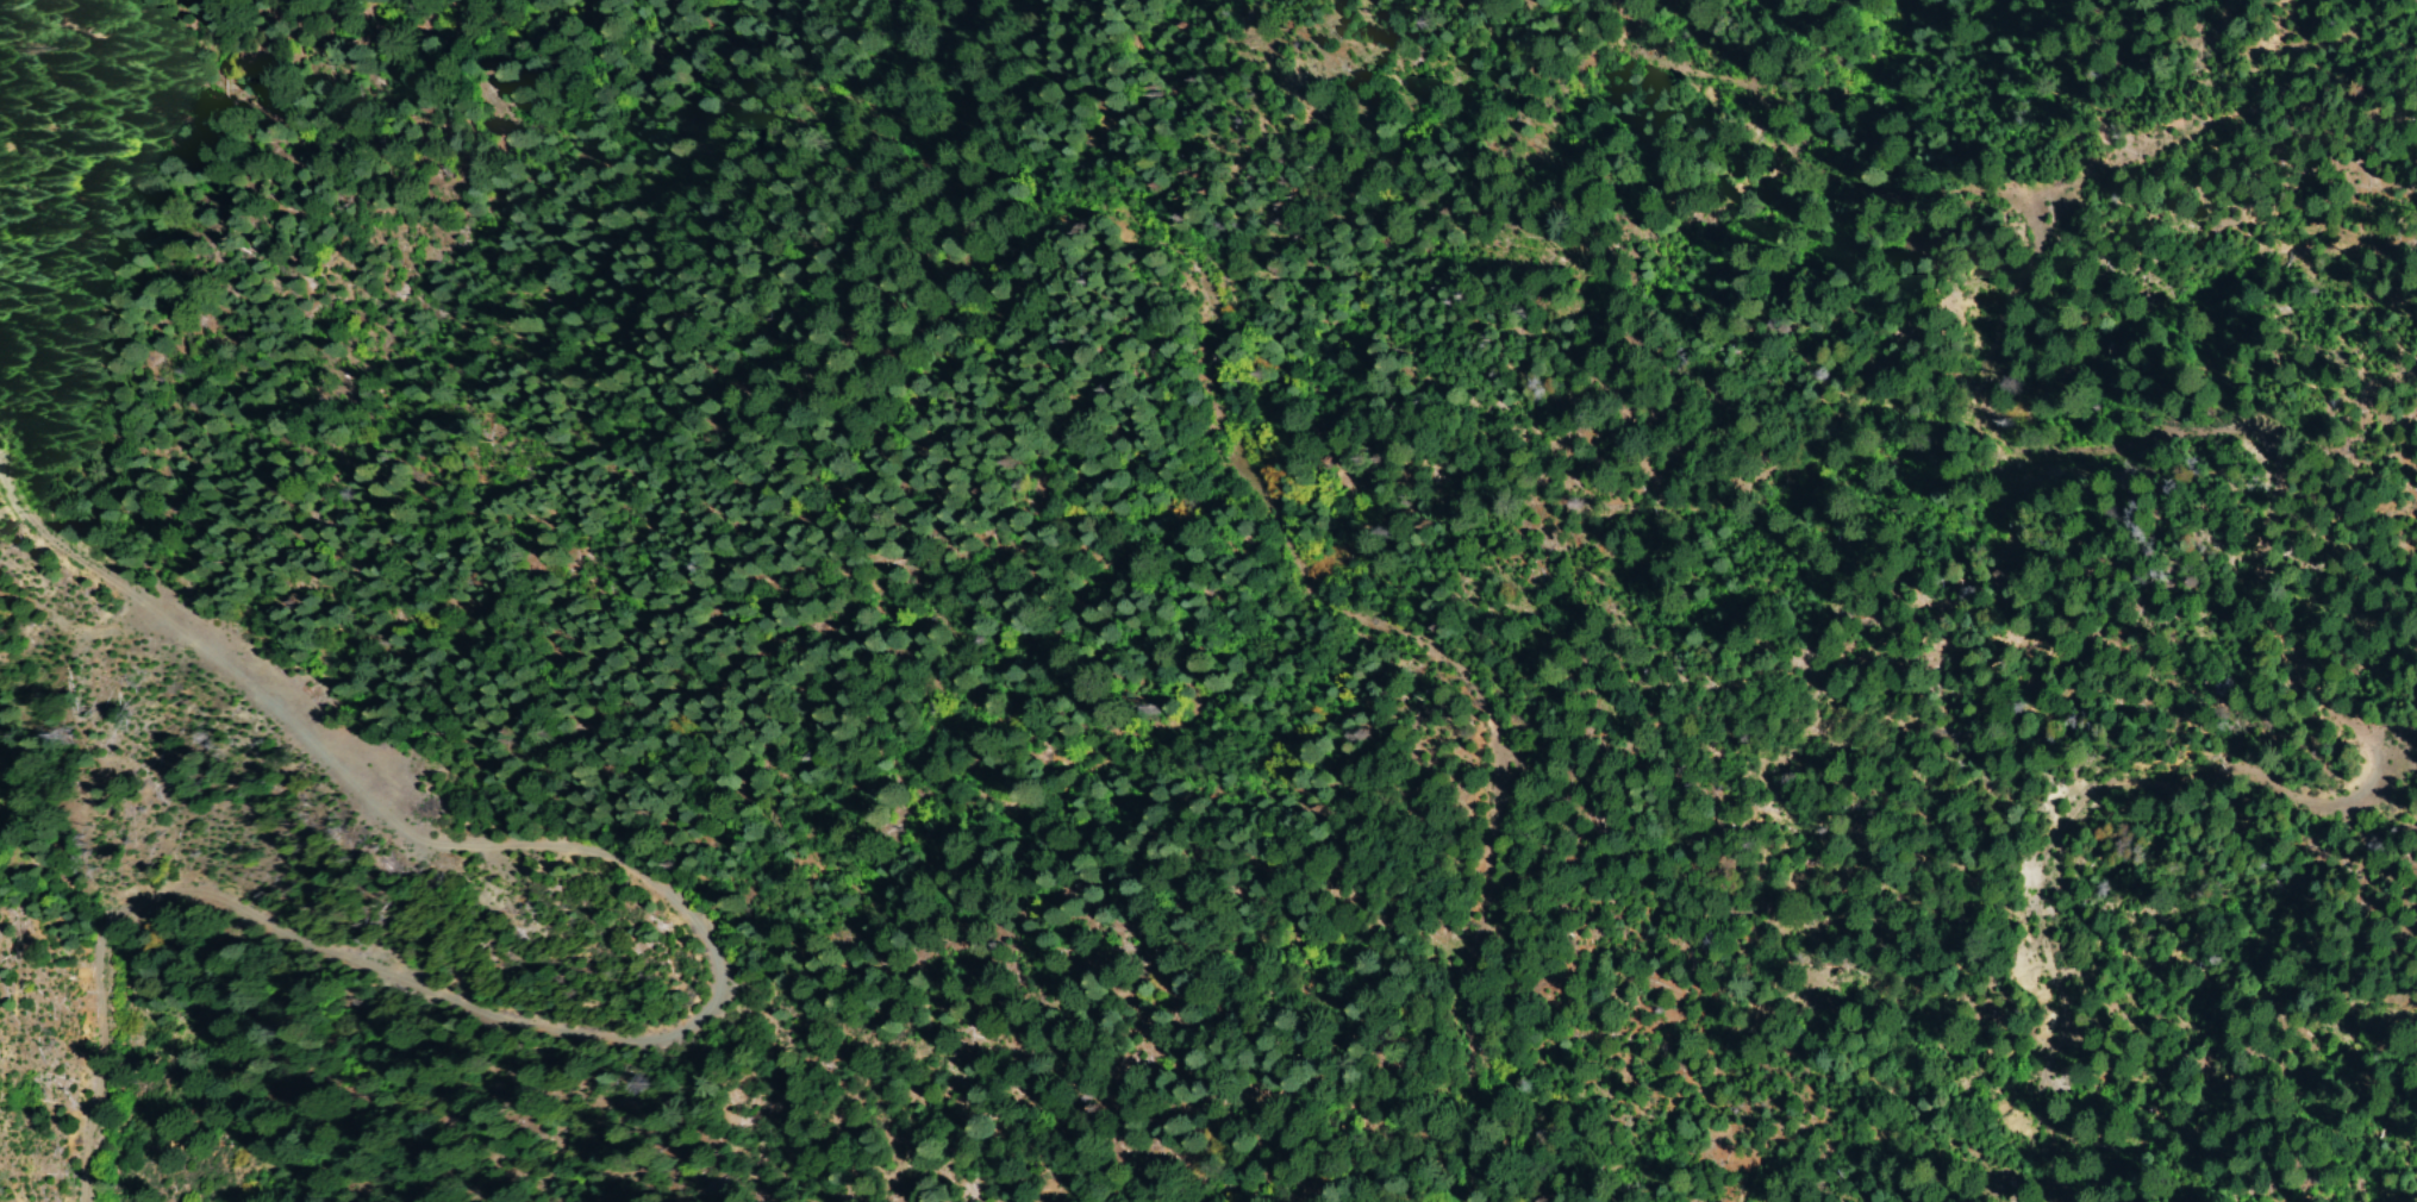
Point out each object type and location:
road: (2007, 819)

